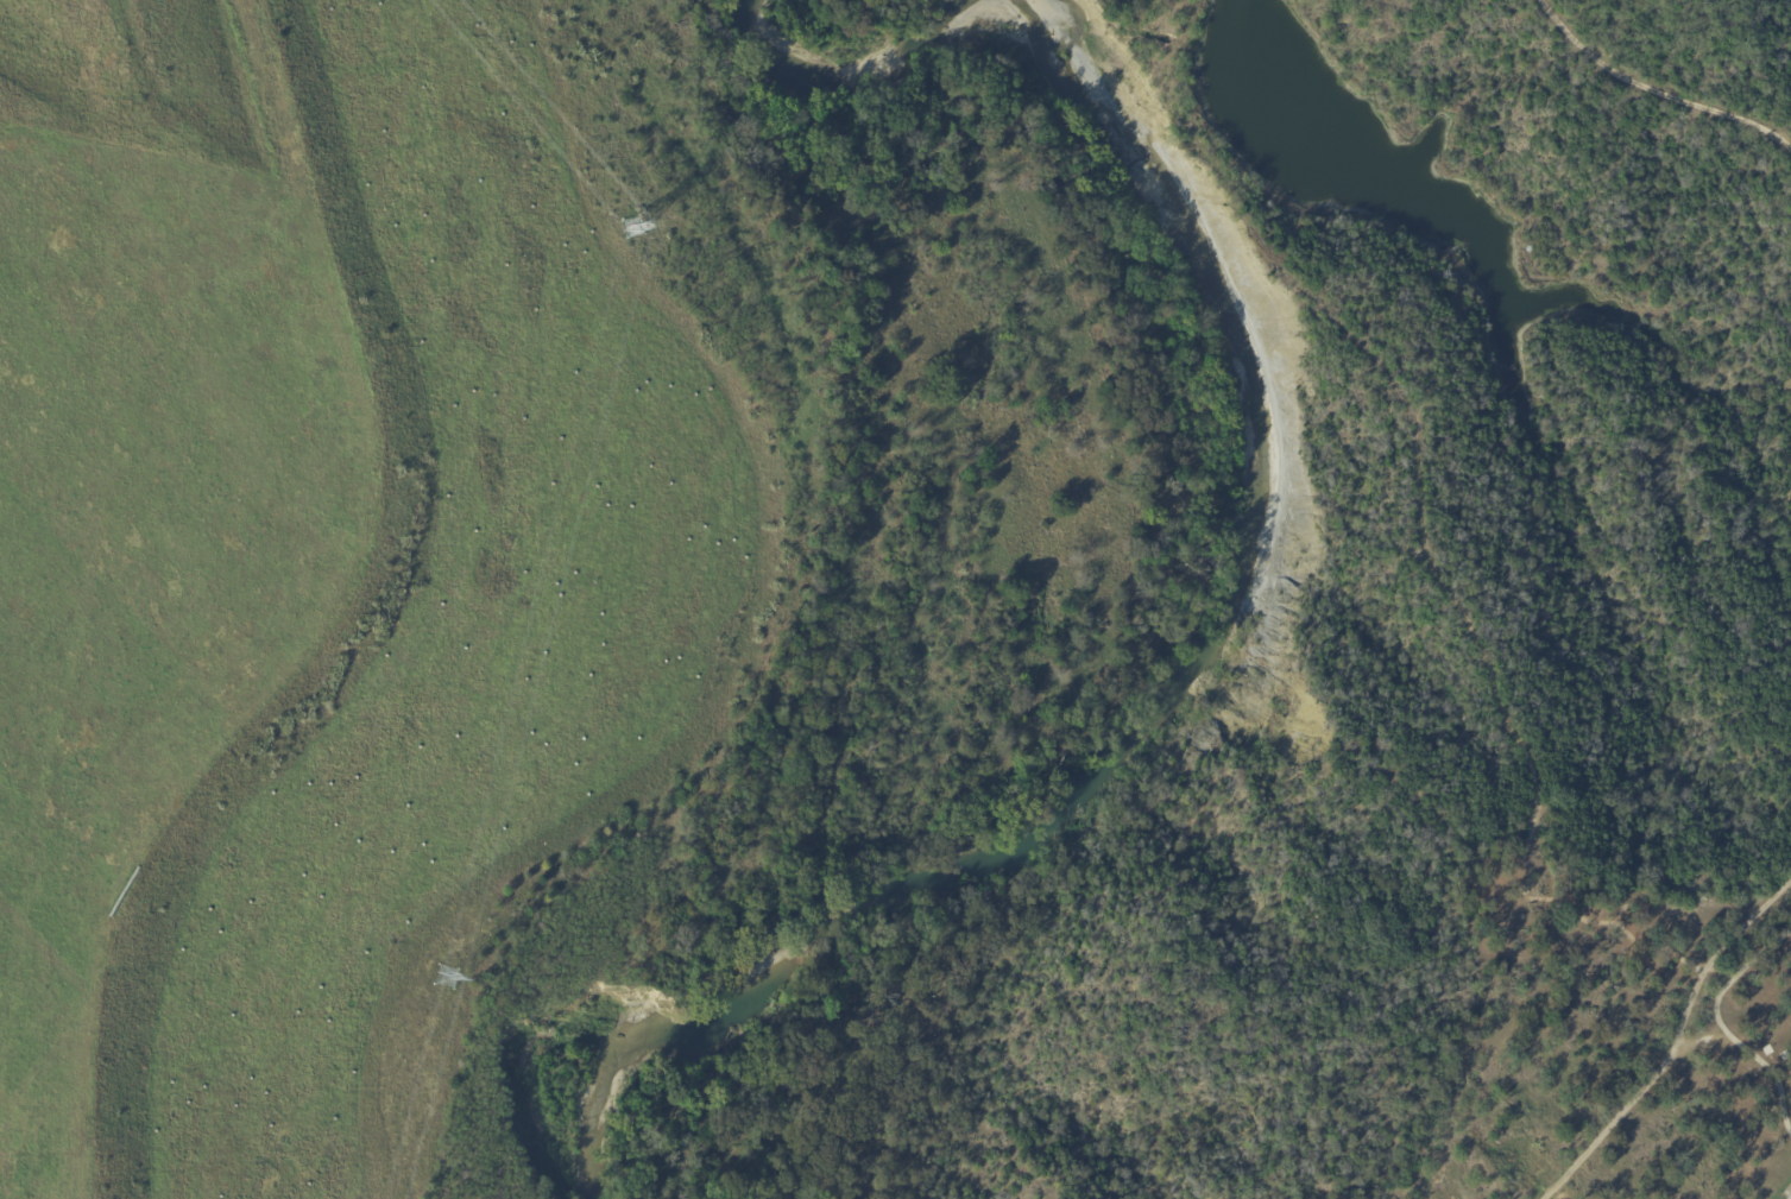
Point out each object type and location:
road: (1654, 91)
power tower: (630, 232)
park: (1575, 645)
river: (1221, 650)
power tower: (441, 985)
road: (1721, 1030)
road: (1676, 1042)
road: (1786, 1192)
parking lot: (1789, 1195)

